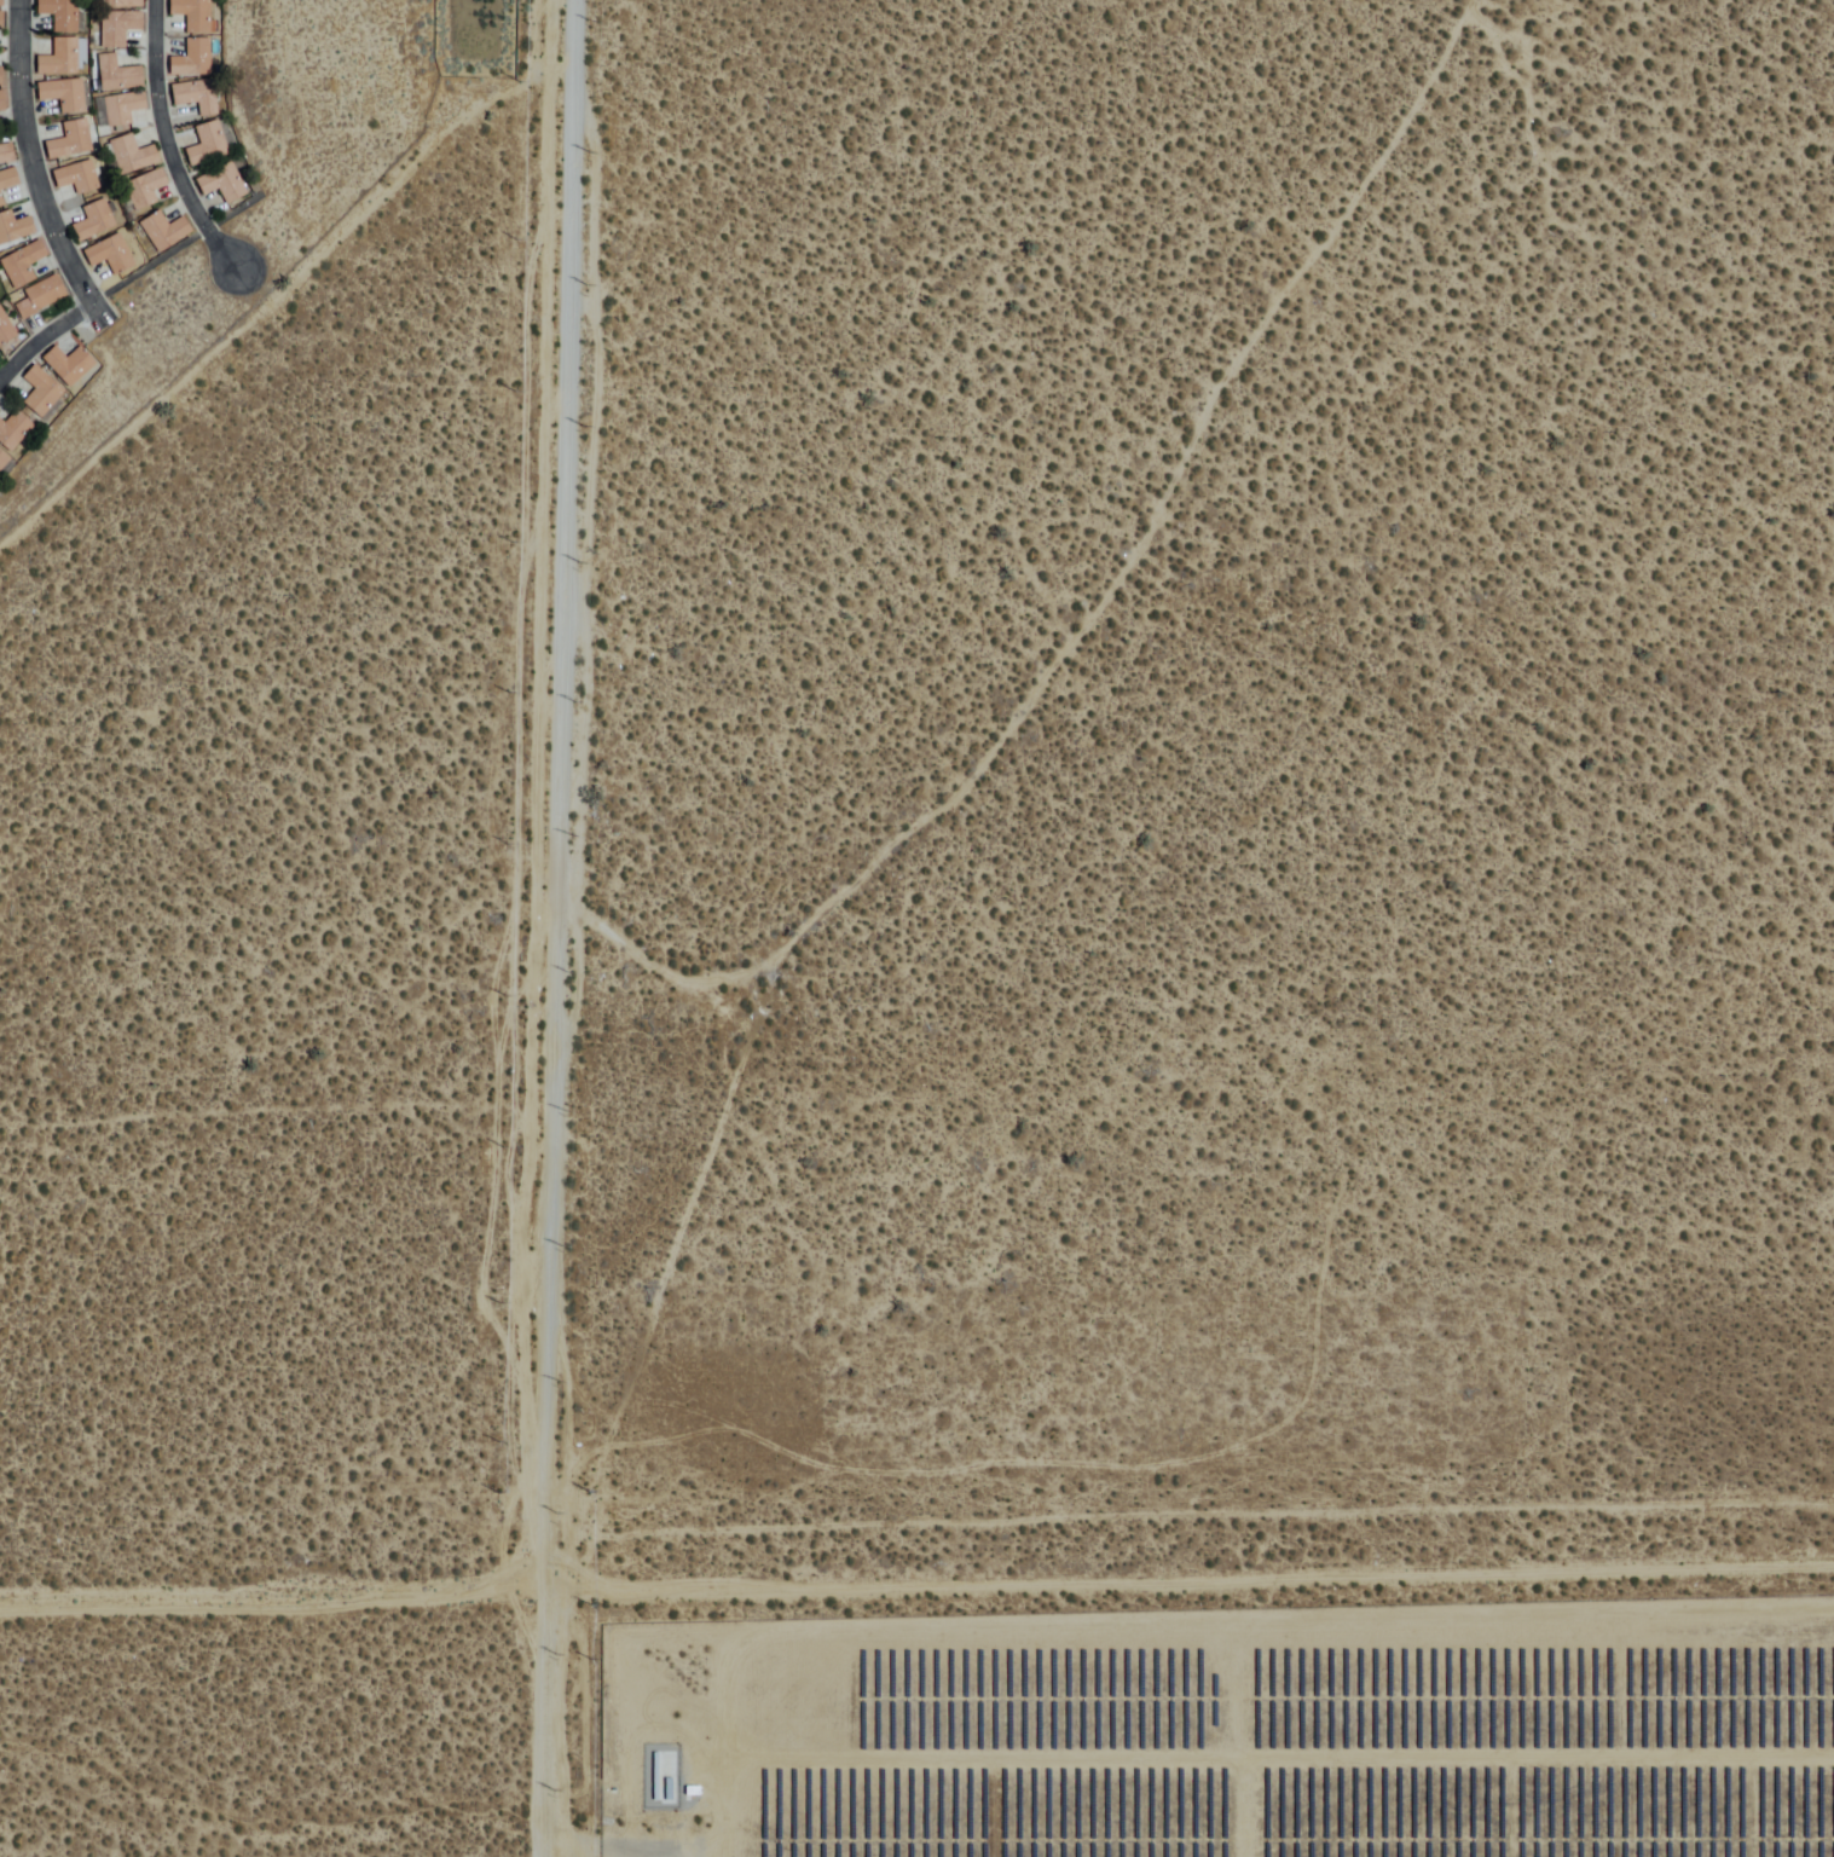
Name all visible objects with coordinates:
building: (1, 2)
building: (121, 4)
building: (60, 13)
building: (192, 15)
building: (509, 17)
building: (1, 21)
building: (117, 28)
building: (60, 59)
building: (190, 60)
building: (117, 75)
building: (1, 76)
building: (63, 96)
building: (196, 97)
building: (1, 102)
building: (121, 110)
building: (69, 141)
building: (207, 145)
road: (162, 146)
building: (6, 155)
building: (132, 156)
building: (76, 178)
building: (7, 183)
building: (222, 184)
building: (145, 190)
road: (39, 204)
building: (93, 221)
building: (15, 228)
building: (164, 232)
building: (110, 255)
building: (21, 265)
road: (96, 293)
building: (39, 299)
building: (5, 331)
building: (69, 366)
building: (42, 394)
building: (13, 432)
building: (2, 461)
road: (552, 928)
road: (636, 958)
road: (916, 1583)
solar farm: (1225, 1728)

